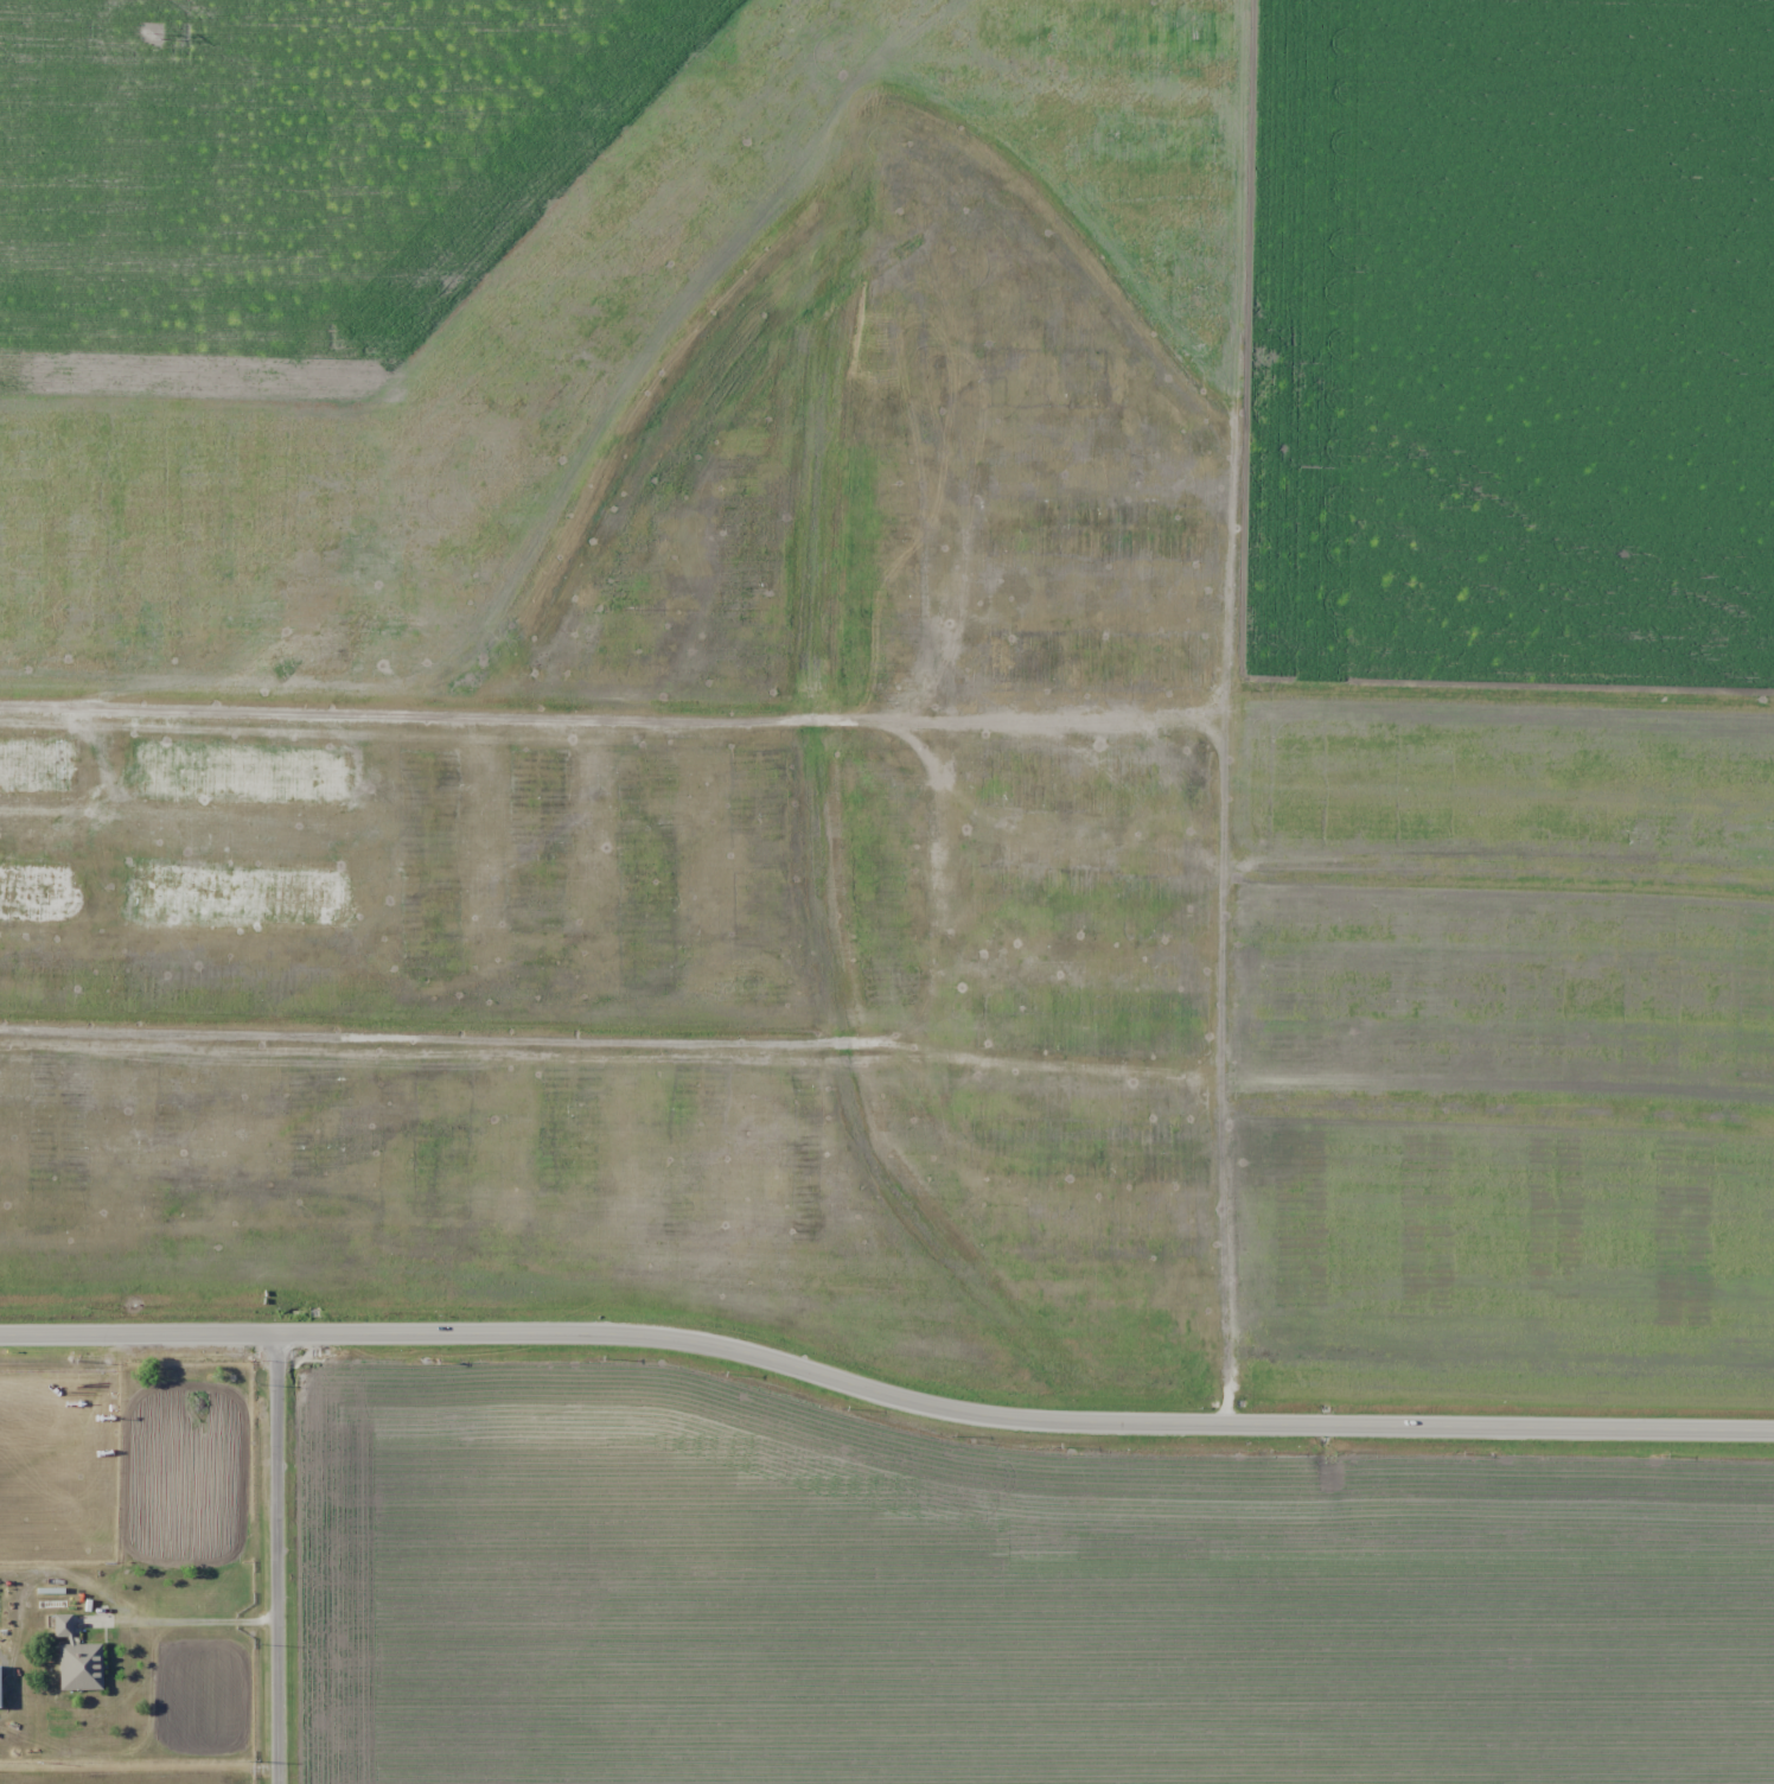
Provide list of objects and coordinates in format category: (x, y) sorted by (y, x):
power tower: (148, 37)
road: (883, 1390)
road: (279, 1557)
building: (81, 1667)
building: (1, 1687)

